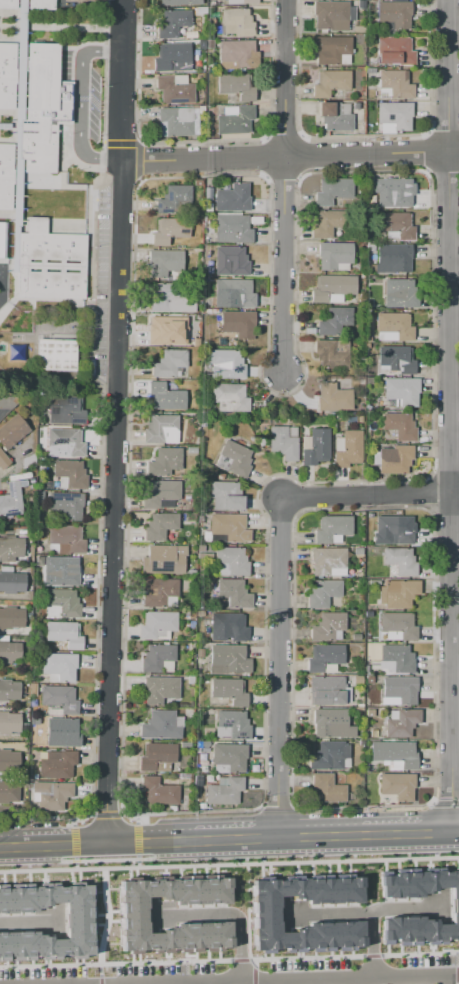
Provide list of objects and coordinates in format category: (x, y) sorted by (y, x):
building: (180, 2)
building: (249, 2)
building: (7, 3)
building: (39, 4)
building: (395, 14)
building: (330, 16)
road: (104, 21)
building: (235, 22)
building: (172, 23)
road: (51, 26)
building: (330, 49)
road: (73, 50)
road: (103, 50)
building: (236, 52)
building: (395, 52)
building: (172, 58)
building: (7, 75)
road: (283, 77)
road: (122, 80)
building: (329, 82)
building: (396, 83)
building: (236, 86)
building: (173, 90)
road: (79, 103)
road: (102, 105)
building: (42, 107)
building: (333, 117)
building: (393, 117)
building: (179, 121)
building: (235, 121)
road: (9, 125)
road: (17, 136)
road: (120, 143)
road: (290, 155)
road: (69, 156)
road: (100, 160)
road: (137, 161)
building: (6, 175)
road: (52, 180)
building: (332, 190)
building: (392, 193)
building: (173, 198)
building: (232, 198)
road: (8, 214)
building: (325, 223)
building: (396, 225)
building: (232, 229)
building: (168, 230)
building: (1, 237)
building: (333, 255)
building: (392, 259)
road: (7, 260)
building: (230, 261)
building: (163, 262)
building: (49, 263)
road: (282, 264)
building: (331, 288)
road: (14, 289)
building: (235, 291)
building: (399, 294)
building: (171, 297)
building: (334, 320)
building: (237, 323)
building: (395, 325)
building: (165, 331)
park: (15, 337)
building: (331, 352)
building: (54, 355)
building: (396, 360)
building: (169, 362)
building: (224, 364)
road: (45, 375)
building: (401, 390)
building: (166, 397)
building: (229, 397)
building: (333, 398)
building: (8, 402)
building: (65, 410)
road: (449, 416)
building: (399, 426)
building: (161, 430)
building: (10, 435)
building: (66, 442)
building: (282, 443)
building: (316, 447)
building: (348, 450)
building: (234, 458)
building: (394, 459)
building: (163, 461)
building: (70, 473)
road: (99, 485)
building: (160, 494)
road: (454, 495)
building: (225, 496)
road: (365, 498)
building: (10, 500)
road: (112, 502)
building: (66, 505)
building: (160, 525)
building: (229, 527)
building: (331, 528)
building: (395, 529)
building: (66, 539)
building: (11, 550)
building: (163, 559)
building: (326, 560)
building: (399, 560)
building: (231, 561)
building: (59, 570)
building: (12, 581)
building: (159, 593)
building: (322, 593)
building: (398, 593)
building: (232, 594)
building: (64, 602)
building: (11, 618)
building: (229, 625)
building: (398, 625)
building: (156, 626)
building: (326, 626)
building: (64, 634)
building: (10, 653)
building: (157, 657)
building: (324, 657)
building: (228, 659)
building: (396, 659)
building: (59, 666)
road: (278, 669)
building: (159, 689)
building: (400, 689)
building: (9, 690)
building: (229, 691)
building: (327, 691)
building: (59, 699)
building: (234, 723)
building: (402, 723)
building: (9, 724)
building: (331, 724)
building: (160, 725)
building: (62, 732)
building: (395, 753)
building: (230, 756)
building: (329, 756)
building: (157, 757)
building: (9, 760)
building: (57, 765)
building: (397, 785)
building: (327, 788)
building: (8, 792)
building: (158, 792)
building: (224, 792)
building: (52, 794)
road: (105, 814)
road: (127, 814)
road: (82, 815)
road: (134, 819)
road: (72, 820)
road: (454, 833)
road: (404, 835)
road: (317, 837)
road: (136, 839)
road: (234, 840)
road: (72, 841)
road: (178, 842)
road: (134, 843)
road: (74, 845)
road: (10, 846)
road: (32, 846)
road: (104, 860)
road: (137, 862)
road: (74, 864)
road: (229, 865)
building: (454, 906)
road: (361, 908)
road: (226, 912)
building: (133, 913)
building: (266, 913)
road: (26, 918)
building: (76, 921)
road: (105, 922)
road: (371, 943)
road: (419, 953)
road: (371, 956)
road: (258, 959)
road: (458, 959)
road: (242, 960)
road: (115, 963)
road: (458, 974)
road: (99, 979)
road: (306, 980)
road: (443, 980)
road: (358, 981)
road: (268, 982)
road: (208, 983)
road: (457, 983)

